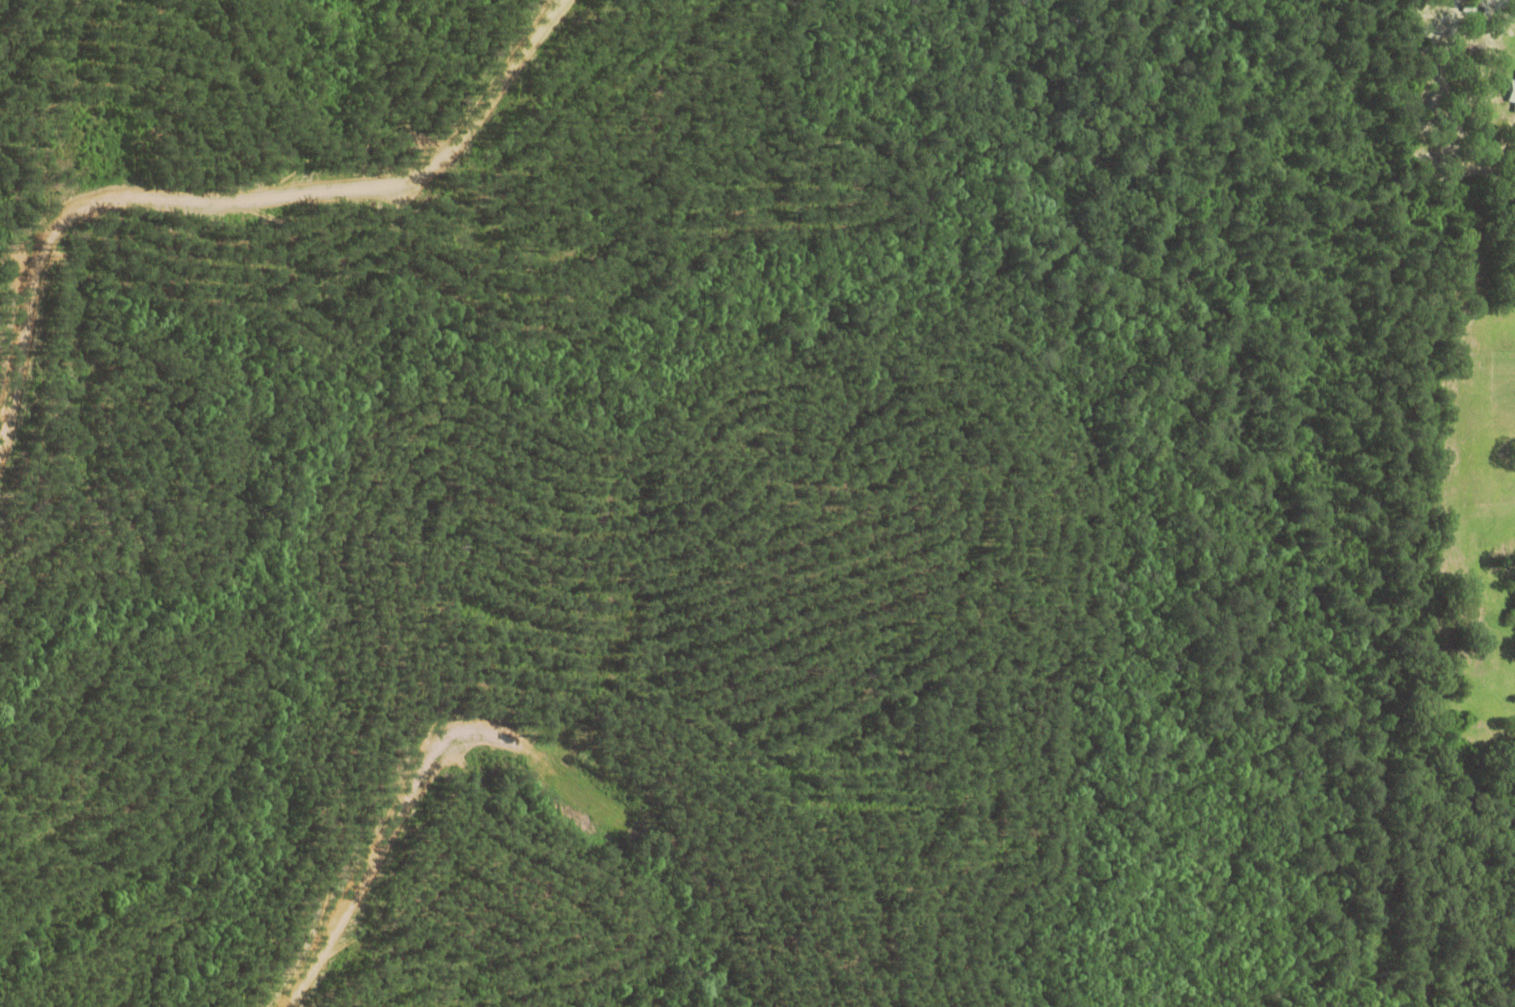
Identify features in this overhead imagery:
building: (1509, 91)

